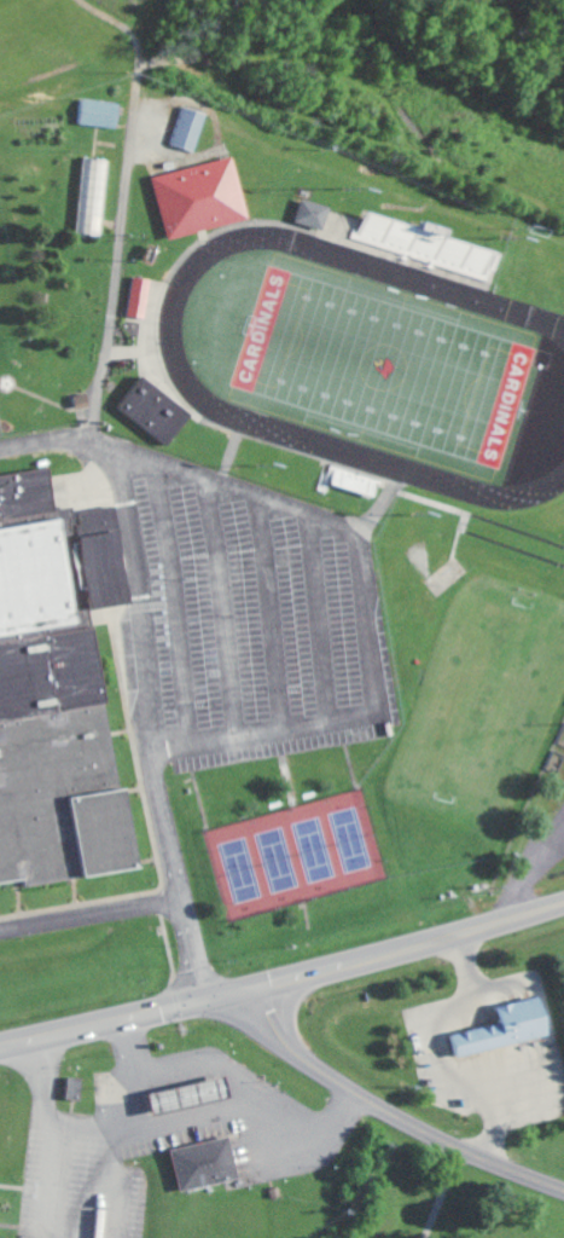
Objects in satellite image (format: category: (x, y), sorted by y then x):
building: (101, 112)
building: (191, 127)
building: (94, 195)
building: (203, 197)
building: (314, 213)
building: (428, 242)
building: (140, 296)
road: (149, 318)
park: (359, 358)
building: (159, 409)
road: (368, 620)
road: (145, 621)
parking lot: (260, 623)
building: (46, 707)
park: (295, 855)
road: (152, 904)
road: (283, 984)
building: (508, 1028)
road: (130, 1072)
building: (79, 1088)
gas station: (182, 1091)
building: (193, 1095)
road: (209, 1118)
road: (391, 1118)
road: (54, 1140)
building: (198, 1156)
building: (0, 1192)
road: (442, 1196)

